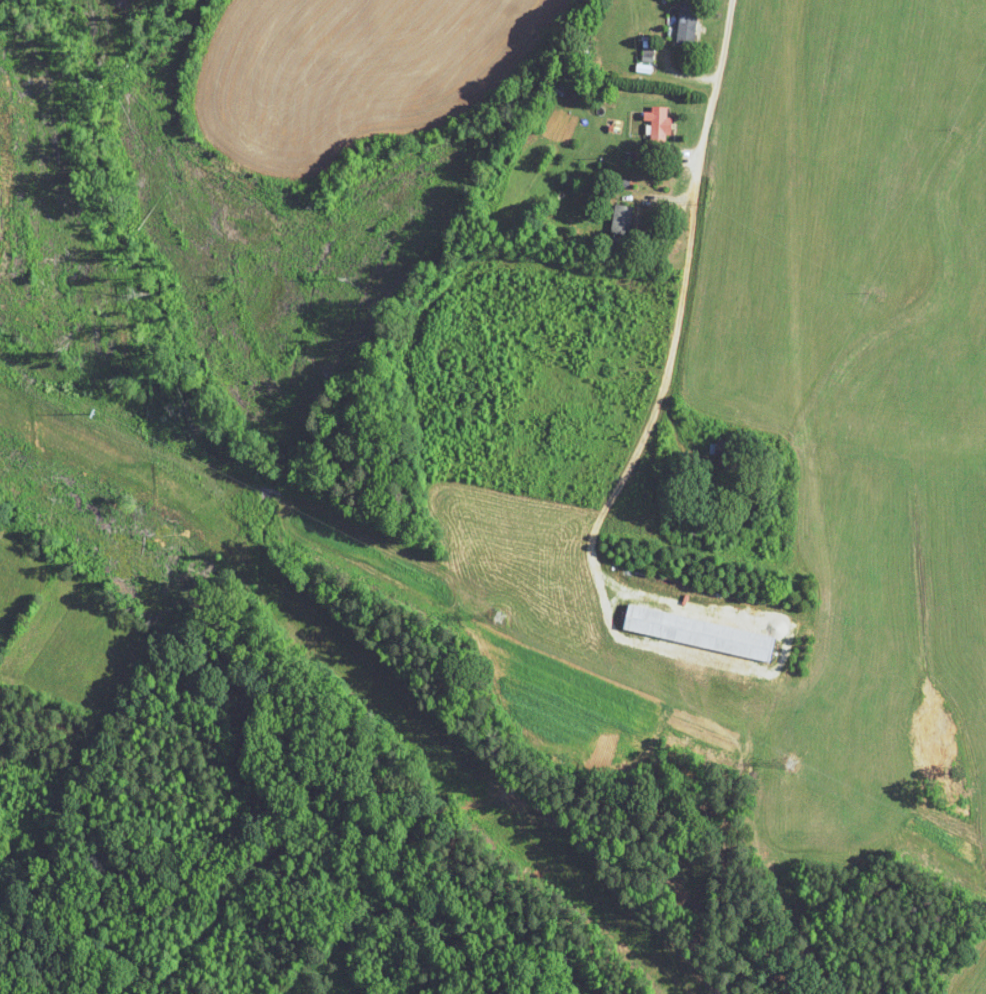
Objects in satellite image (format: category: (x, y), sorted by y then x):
building: (688, 22)
building: (658, 127)
building: (622, 220)
power tower: (75, 405)
road: (674, 417)
power tower: (498, 620)
power tower: (789, 761)

